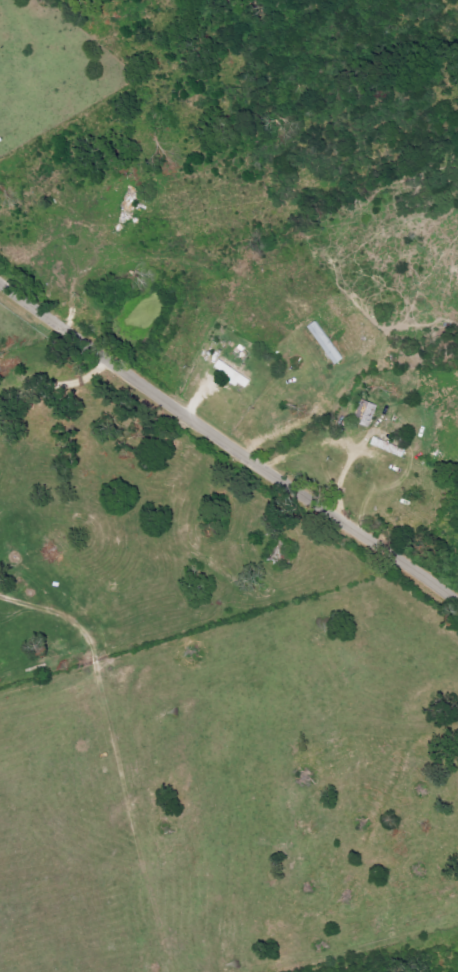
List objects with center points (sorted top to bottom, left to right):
building: (326, 342)
building: (233, 374)
road: (55, 386)
building: (367, 413)
road: (231, 443)

